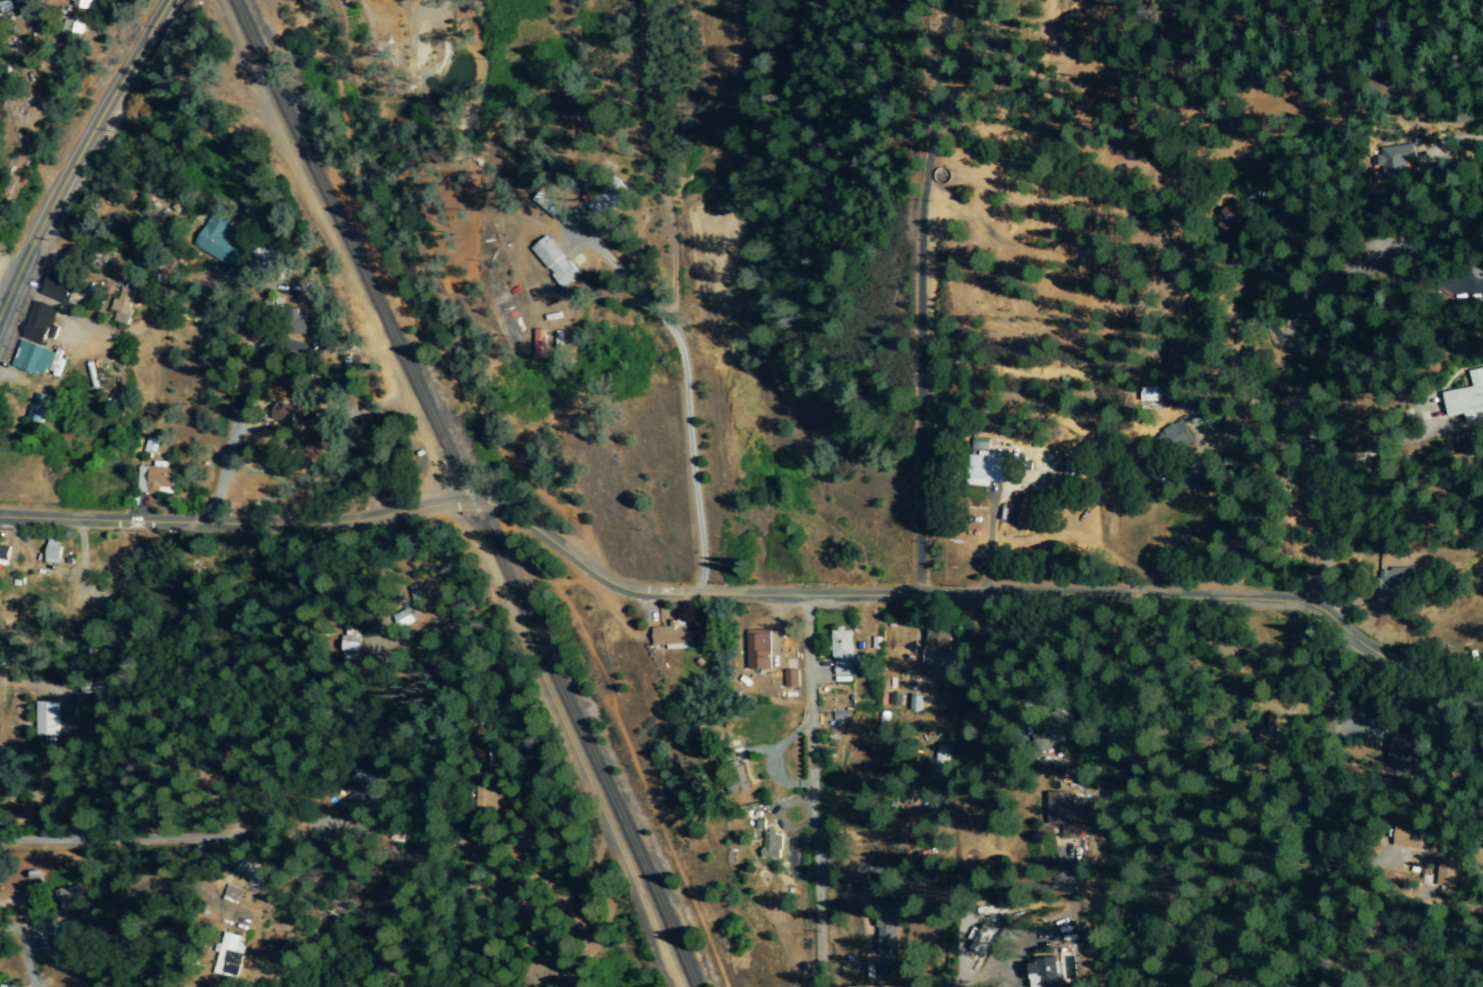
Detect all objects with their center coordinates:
building: (82, 4)
building: (4, 12)
building: (72, 30)
road: (109, 97)
road: (22, 111)
road: (1453, 141)
building: (1394, 162)
building: (546, 205)
building: (216, 238)
road: (1432, 240)
road: (26, 252)
building: (555, 262)
building: (57, 291)
road: (918, 297)
building: (122, 306)
building: (37, 324)
building: (302, 328)
road: (106, 335)
building: (30, 359)
road: (684, 392)
building: (1468, 399)
building: (37, 407)
road: (1298, 410)
building: (282, 414)
building: (1174, 439)
road: (343, 456)
building: (986, 462)
road: (218, 470)
building: (154, 478)
railway: (466, 493)
road: (987, 546)
building: (52, 552)
building: (4, 553)
building: (1395, 582)
road: (743, 596)
building: (403, 619)
building: (670, 634)
building: (937, 639)
building: (351, 646)
building: (758, 650)
building: (843, 653)
building: (791, 678)
building: (45, 719)
building: (1050, 737)
road: (571, 742)
building: (1401, 755)
road: (765, 762)
building: (736, 777)
road: (810, 792)
building: (360, 799)
road: (1320, 799)
building: (484, 801)
building: (1062, 811)
road: (772, 819)
road: (860, 835)
building: (1408, 837)
road: (147, 841)
building: (772, 846)
road: (964, 883)
road: (837, 892)
building: (70, 899)
road: (45, 923)
building: (885, 933)
building: (979, 938)
building: (231, 956)
road: (977, 973)
building: (1042, 973)

